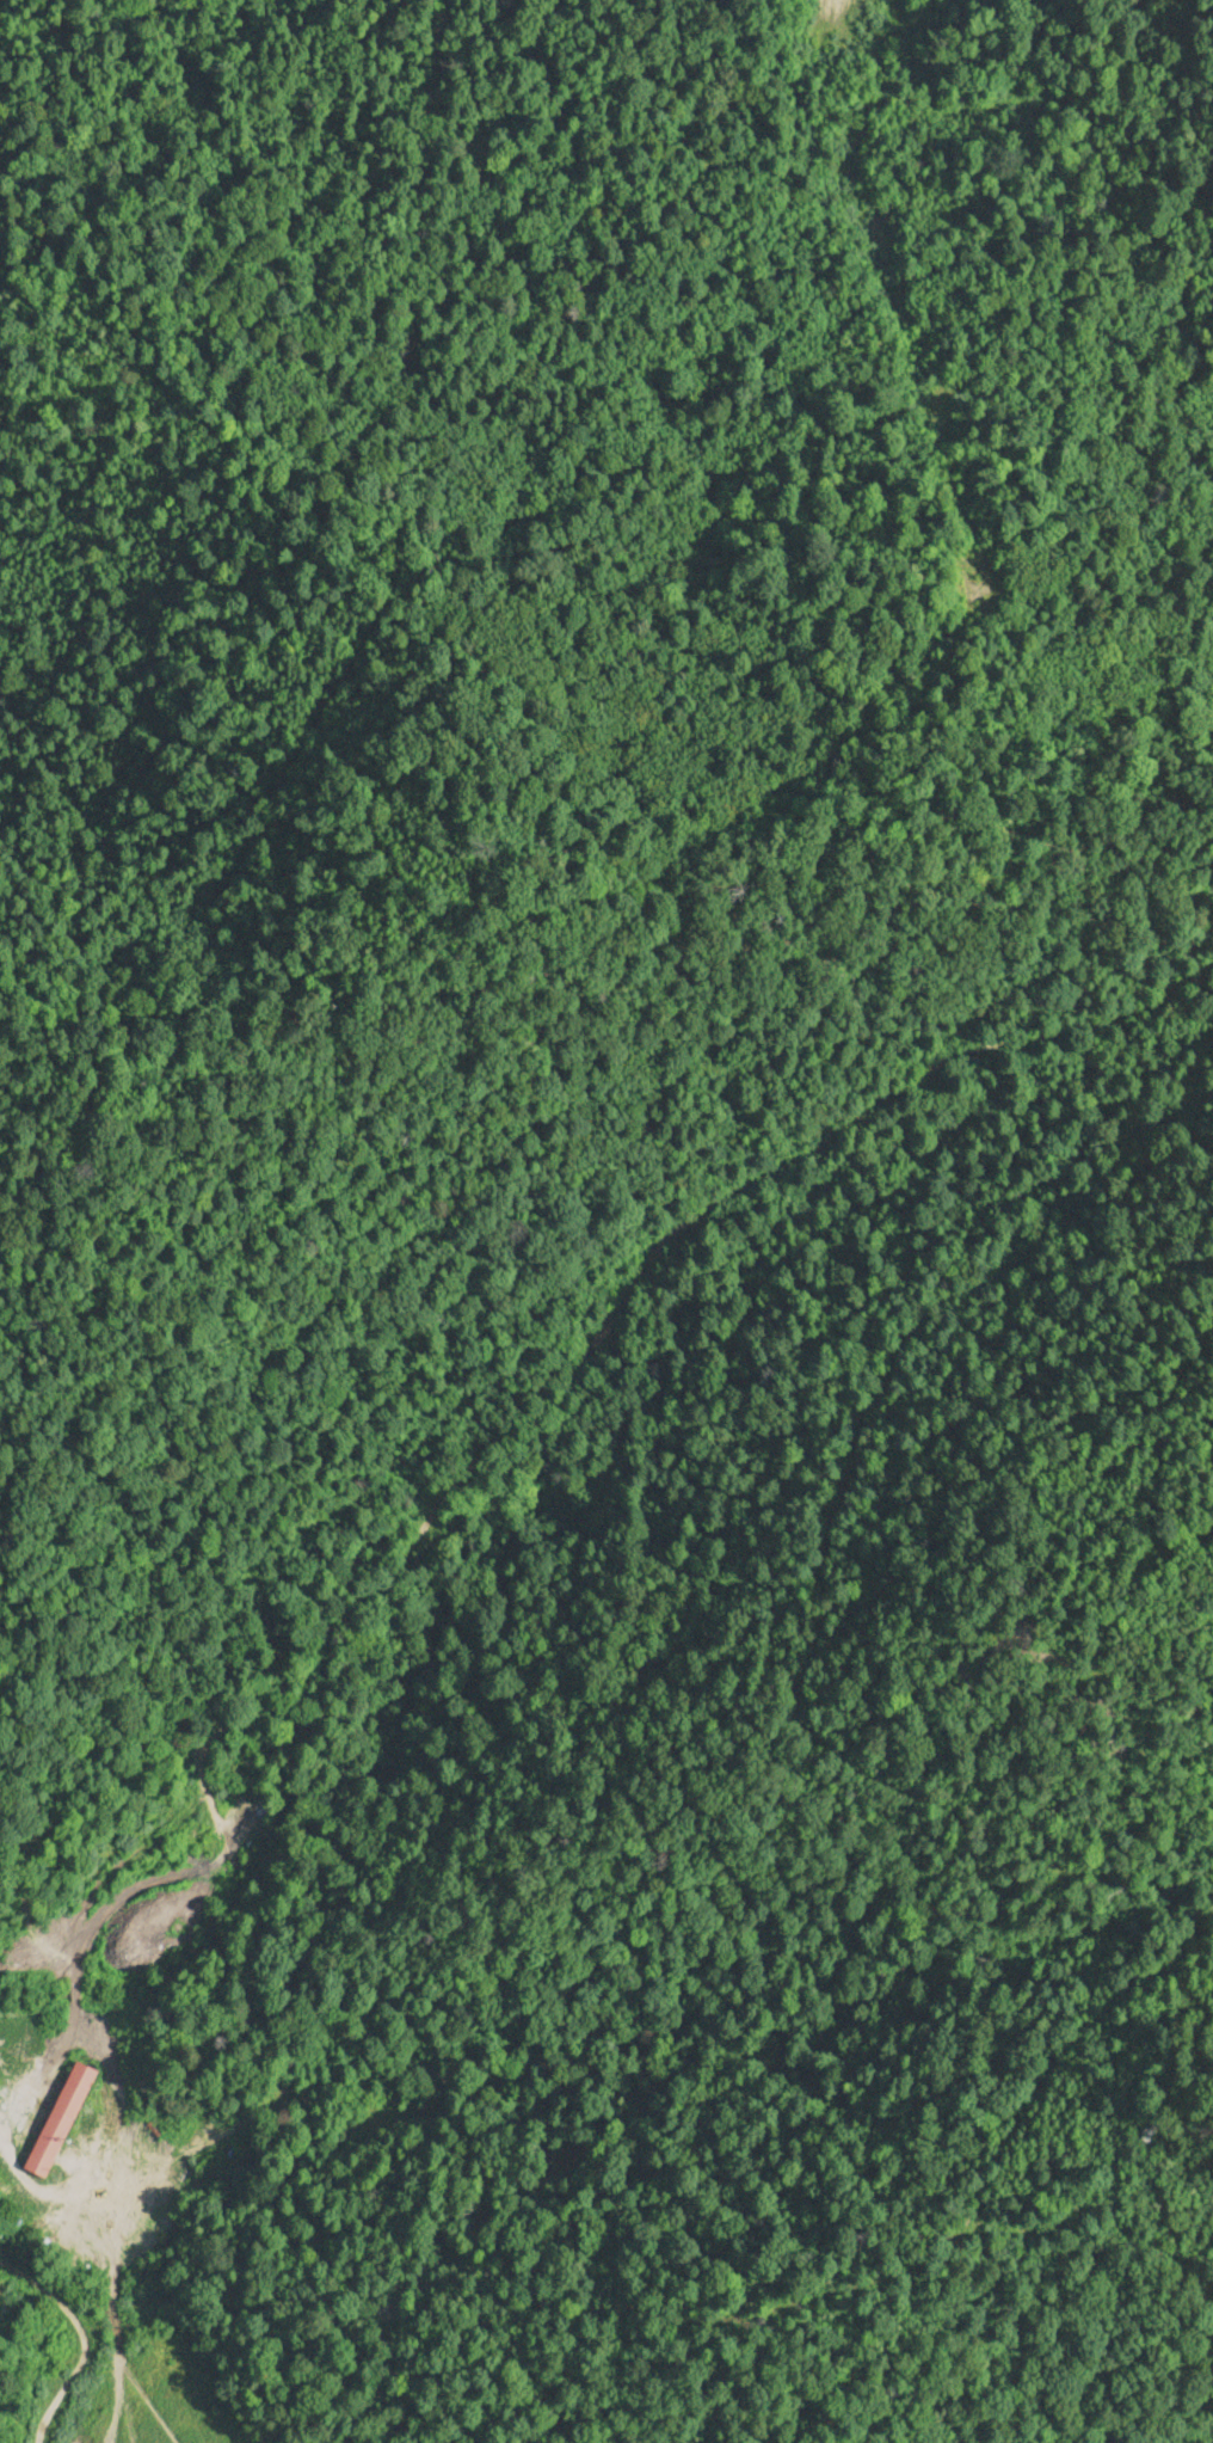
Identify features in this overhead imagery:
road: (449, 94)
road: (61, 2291)

